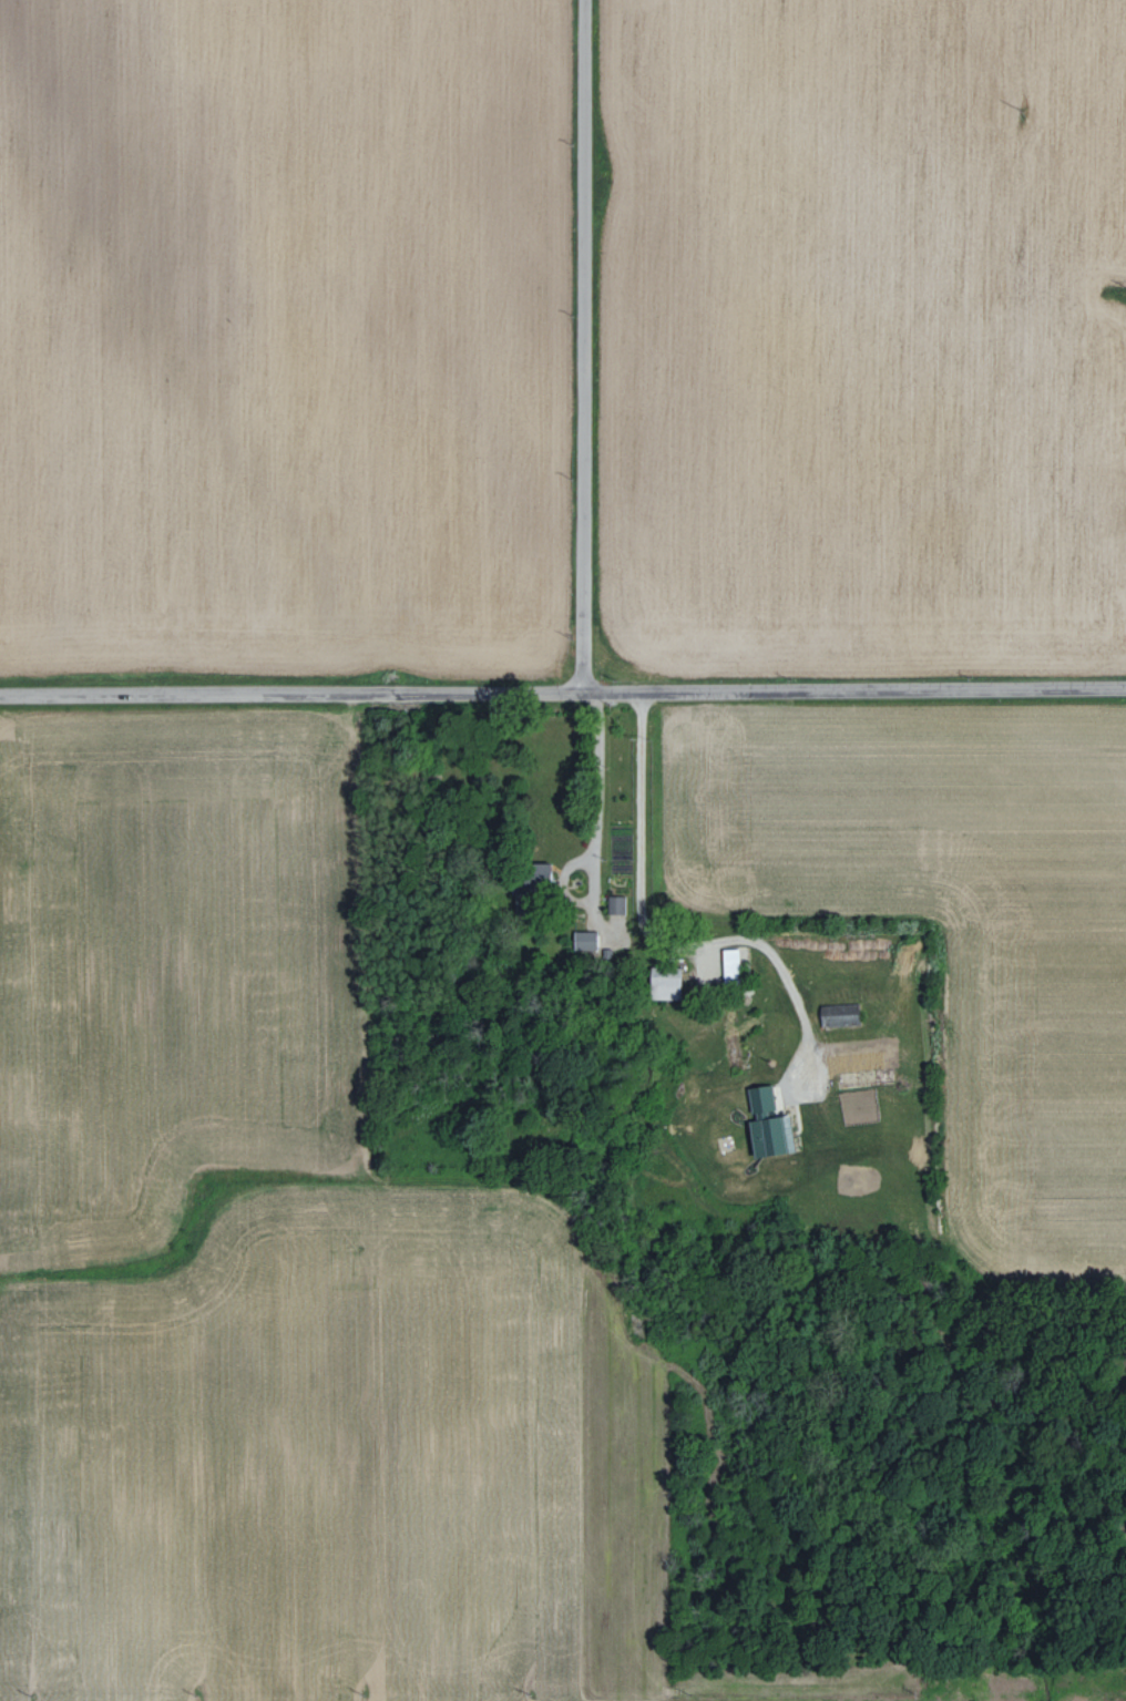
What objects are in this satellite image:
road: (584, 346)
road: (563, 693)
building: (533, 869)
building: (615, 904)
road: (615, 928)
building: (582, 939)
road: (758, 943)
building: (728, 963)
building: (662, 982)
building: (837, 1014)
building: (765, 1124)

